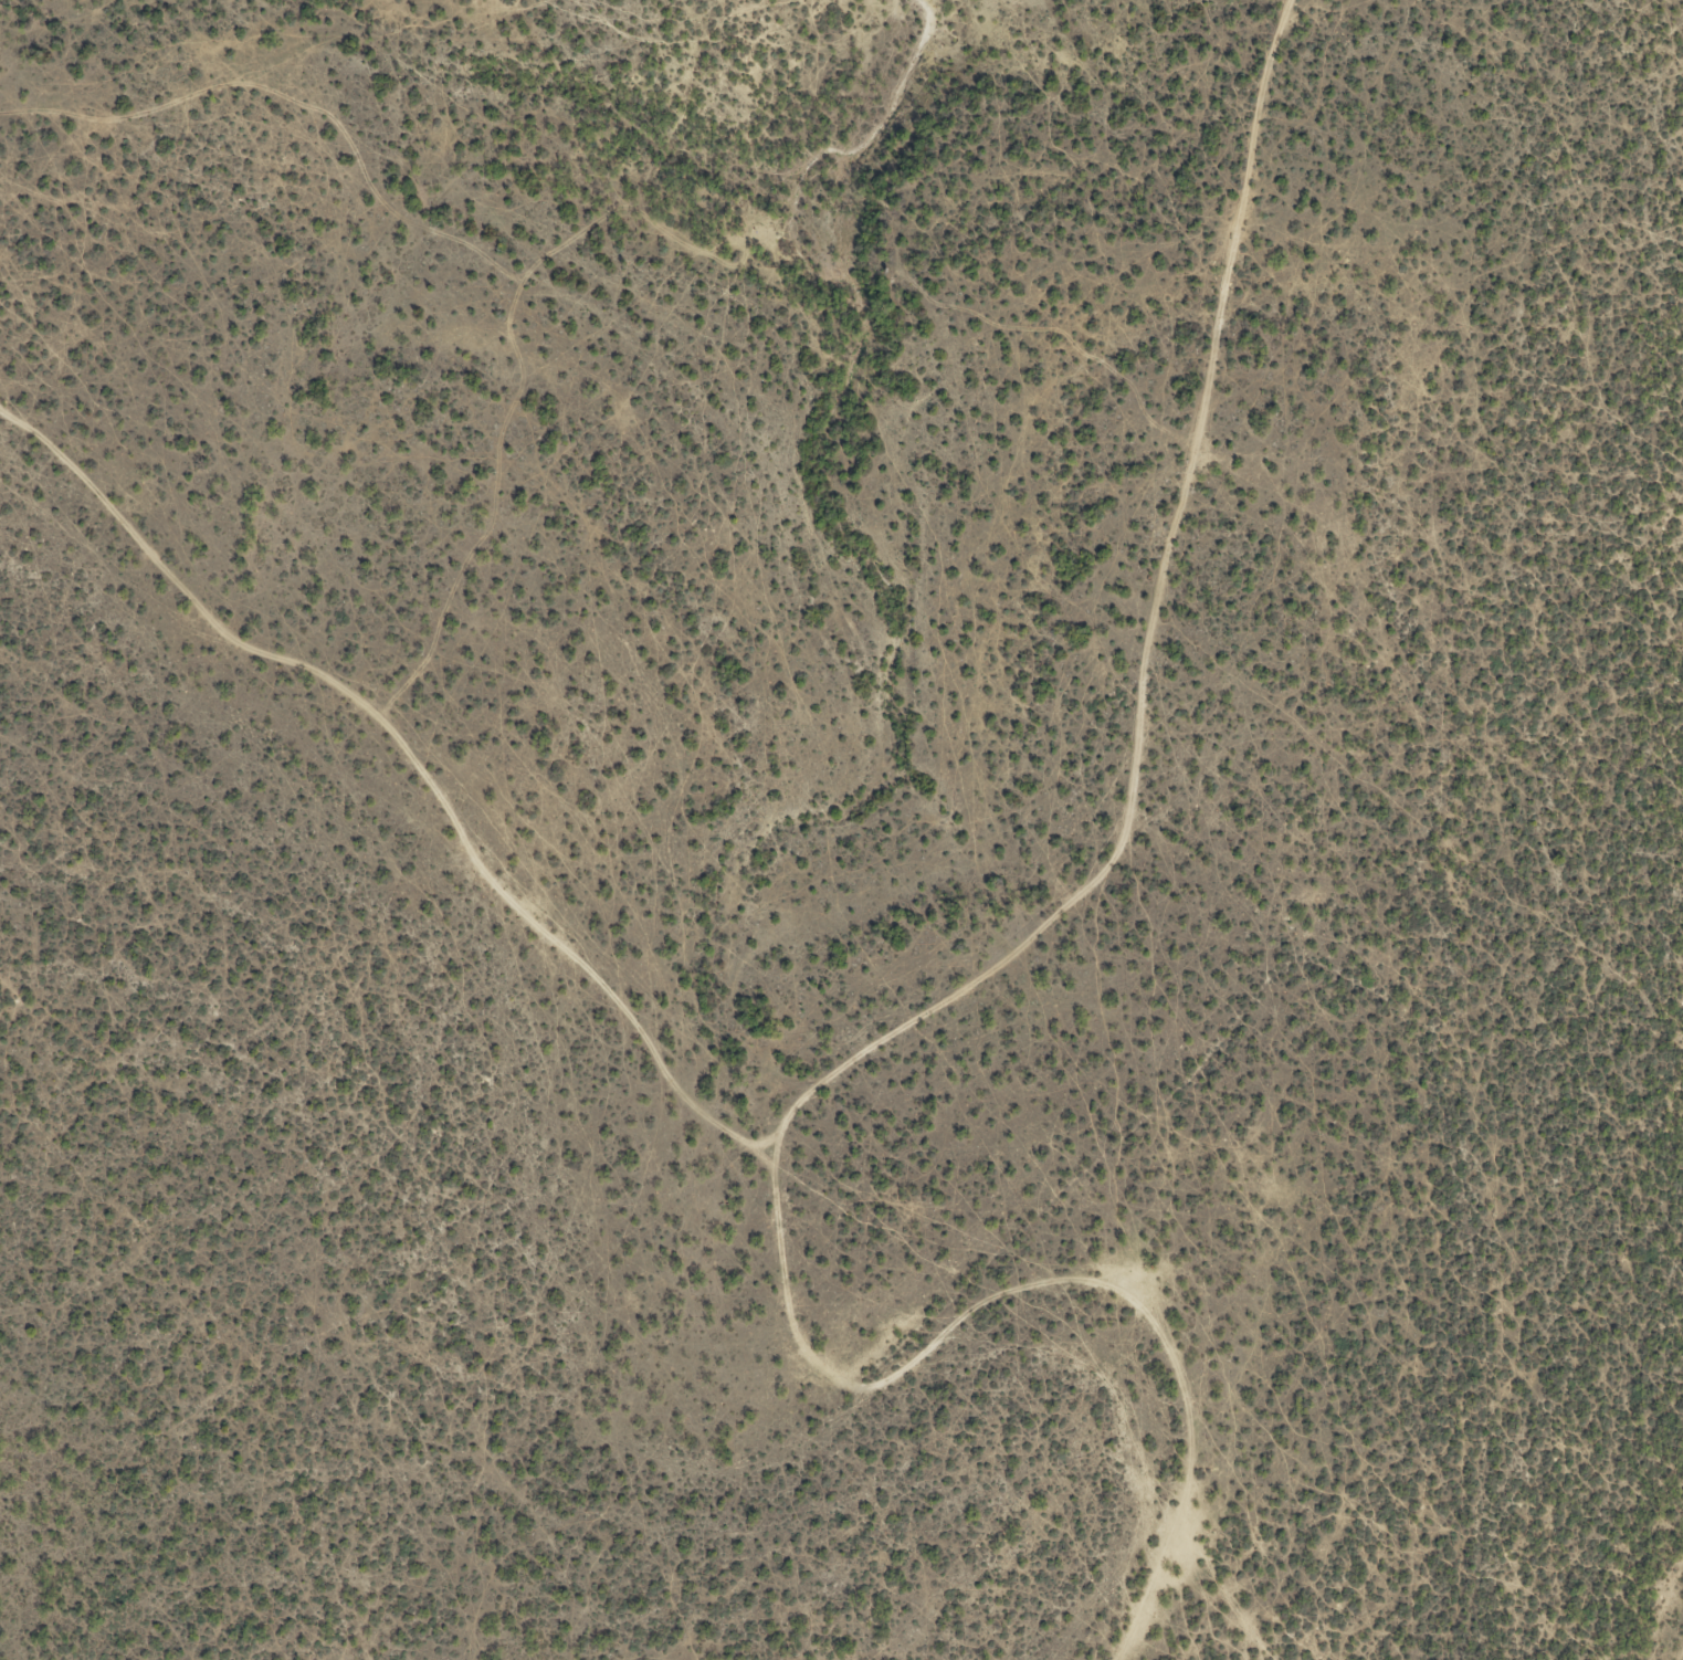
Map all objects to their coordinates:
road: (1090, 648)
road: (681, 1122)

